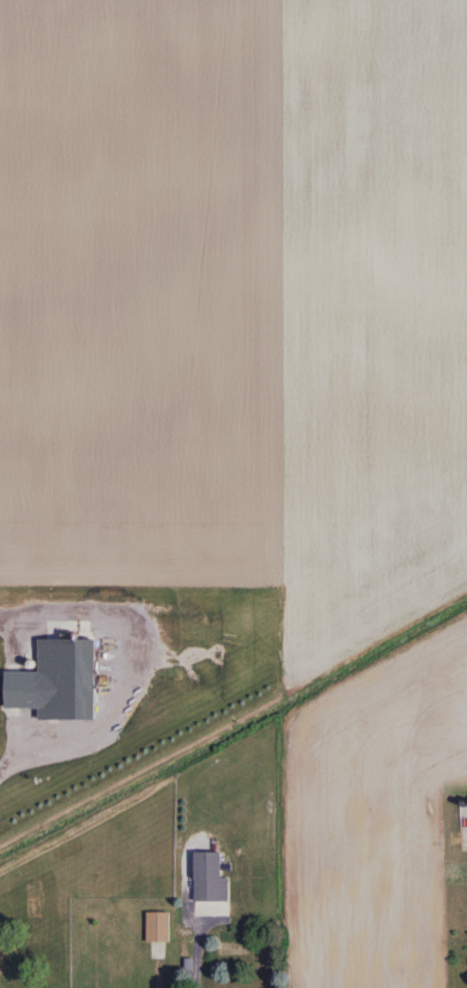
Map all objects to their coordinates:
road: (125, 665)
building: (211, 878)
building: (6, 911)
building: (159, 927)
building: (46, 948)
road: (193, 953)

